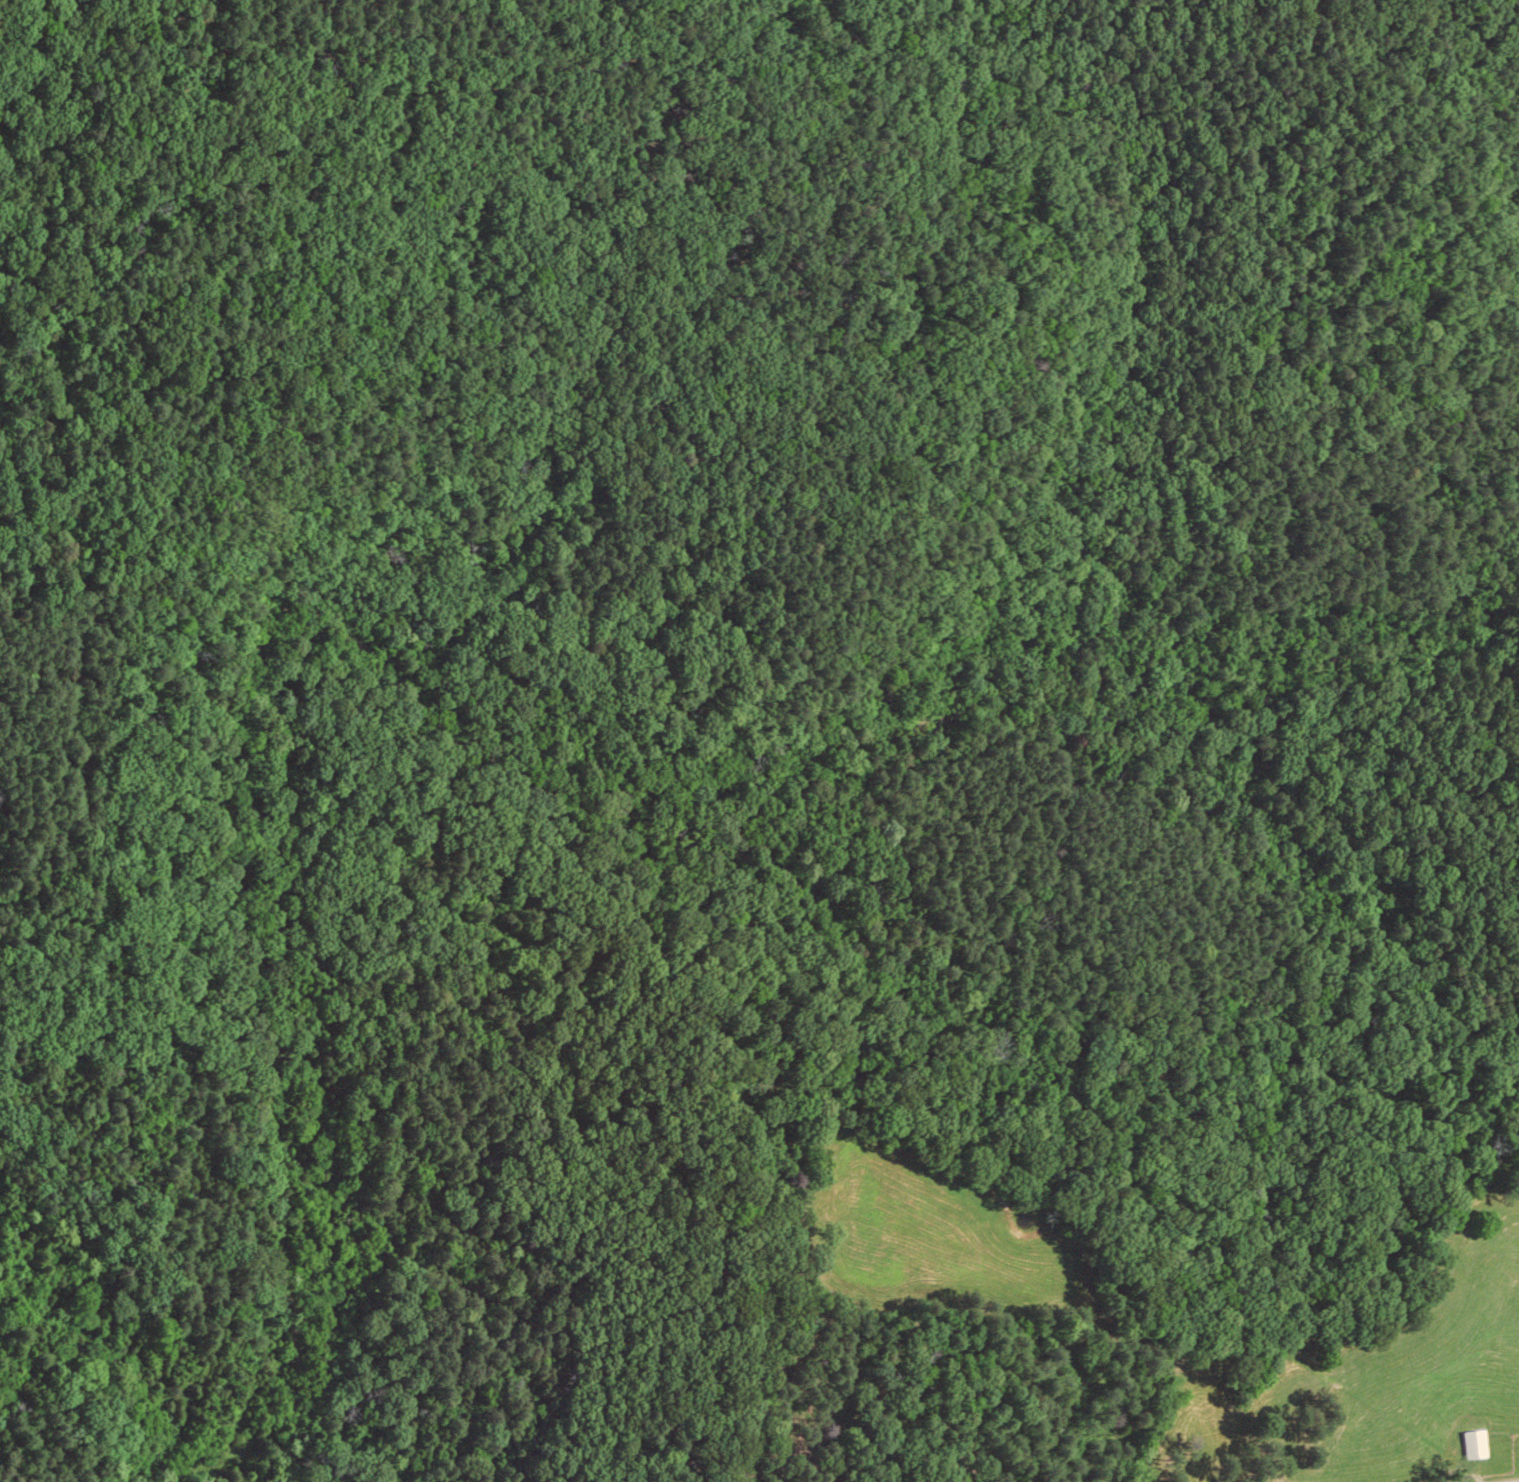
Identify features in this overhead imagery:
building: (1479, 1442)

